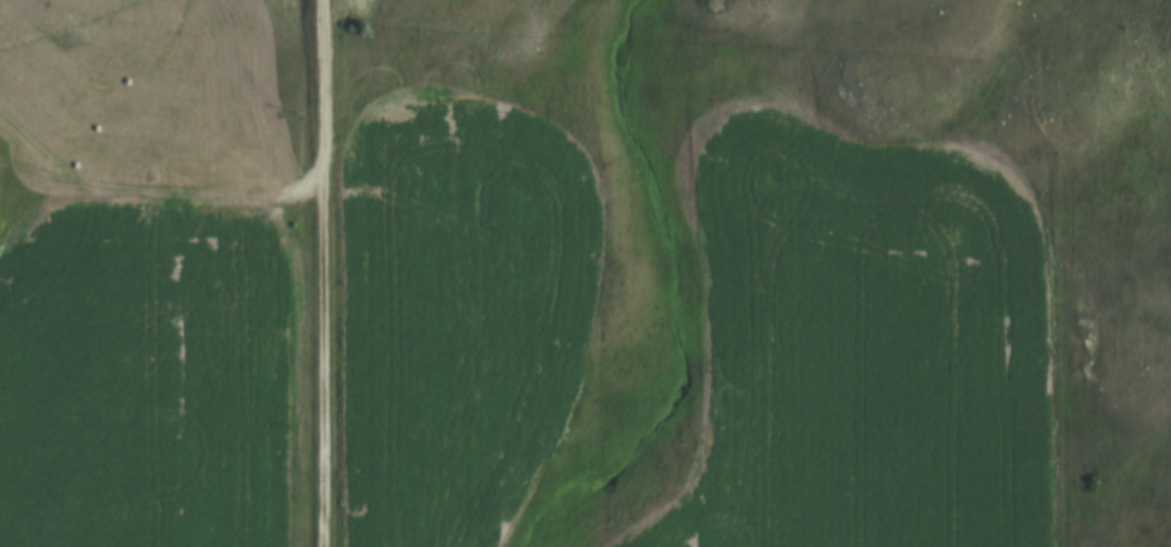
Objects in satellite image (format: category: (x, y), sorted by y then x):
road: (323, 273)

